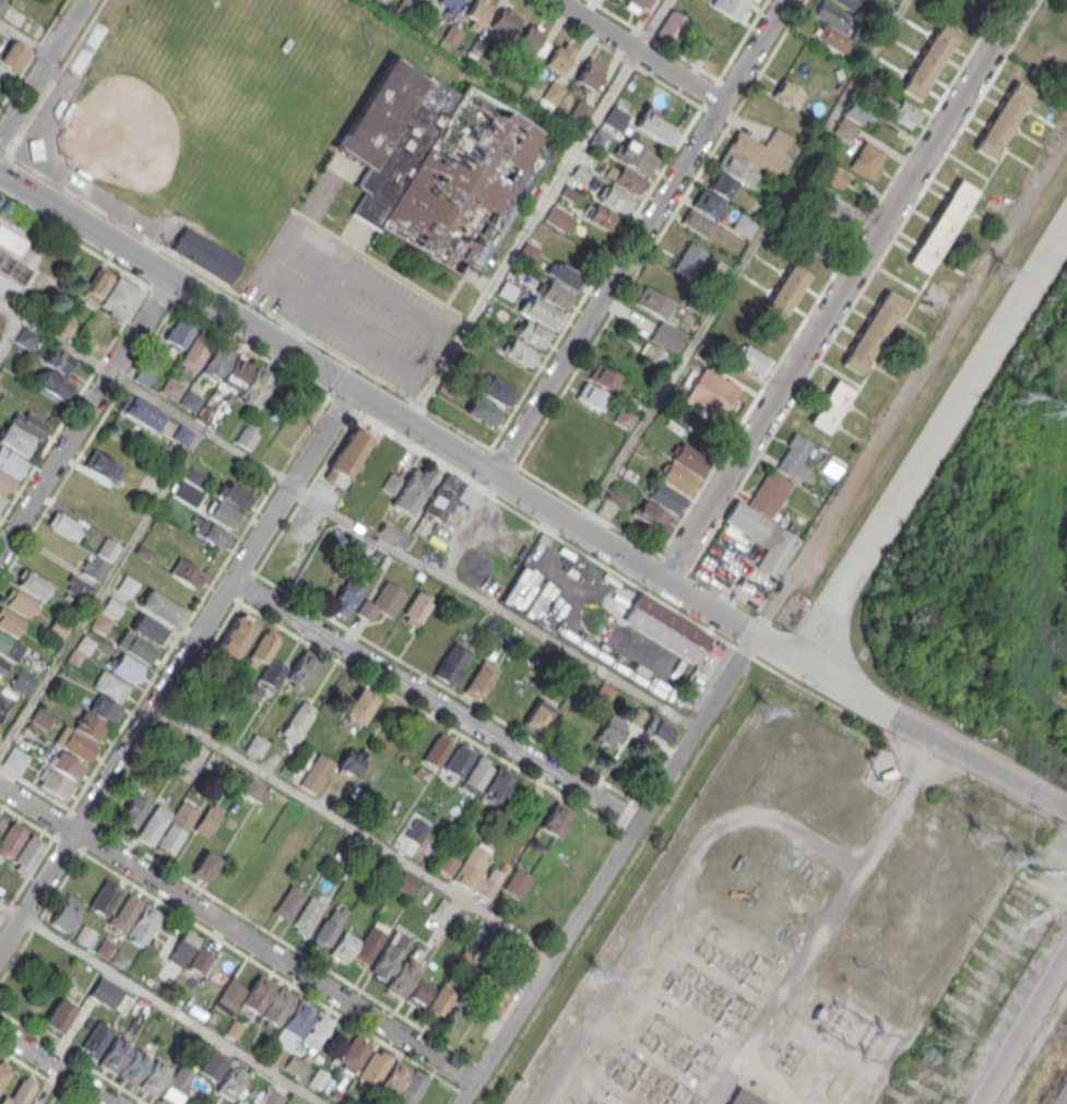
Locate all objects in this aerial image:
building: (752, 0)
building: (452, 2)
building: (925, 2)
building: (636, 4)
building: (849, 4)
building: (728, 7)
building: (478, 10)
building: (503, 23)
building: (830, 28)
building: (683, 32)
building: (452, 35)
road: (25, 40)
building: (536, 41)
building: (477, 49)
road: (638, 51)
road: (754, 51)
road: (33, 54)
building: (15, 55)
building: (560, 57)
building: (927, 60)
road: (42, 69)
building: (586, 75)
building: (552, 93)
building: (786, 93)
building: (580, 110)
building: (900, 111)
park: (204, 115)
building: (613, 117)
building: (851, 118)
building: (1003, 118)
building: (655, 128)
building: (598, 140)
road: (8, 157)
building: (635, 157)
building: (867, 159)
building: (437, 164)
building: (735, 168)
building: (833, 175)
building: (627, 179)
building: (616, 199)
building: (707, 204)
building: (830, 210)
road: (537, 211)
building: (557, 217)
building: (604, 217)
building: (697, 223)
building: (742, 225)
building: (940, 226)
building: (11, 241)
building: (206, 253)
building: (527, 254)
building: (687, 260)
road: (742, 263)
building: (13, 268)
power tower: (995, 271)
building: (565, 276)
building: (787, 288)
building: (507, 289)
road: (606, 289)
road: (842, 290)
building: (554, 295)
building: (119, 297)
building: (653, 302)
parking lot: (351, 304)
building: (542, 313)
road: (10, 327)
building: (872, 331)
building: (532, 333)
building: (178, 334)
building: (666, 336)
building: (195, 351)
building: (519, 352)
building: (653, 354)
building: (60, 360)
building: (752, 360)
building: (216, 361)
road: (402, 365)
building: (507, 371)
building: (236, 372)
building: (603, 377)
building: (52, 382)
building: (257, 384)
road: (414, 384)
building: (171, 388)
building: (494, 391)
building: (712, 392)
power tower: (1015, 394)
building: (591, 396)
building: (190, 401)
road: (157, 402)
road: (376, 403)
building: (829, 404)
power tower: (1048, 406)
building: (483, 411)
building: (142, 413)
road: (84, 415)
building: (624, 418)
building: (29, 424)
building: (183, 435)
building: (247, 437)
building: (15, 439)
road: (932, 441)
building: (345, 458)
building: (689, 458)
building: (794, 459)
building: (103, 465)
building: (9, 472)
building: (677, 478)
building: (391, 483)
building: (88, 485)
building: (410, 491)
building: (234, 495)
building: (615, 496)
building: (665, 497)
building: (1, 503)
building: (439, 503)
building: (315, 510)
building: (224, 514)
road: (251, 518)
building: (64, 525)
building: (210, 533)
building: (761, 536)
road: (130, 548)
building: (108, 549)
building: (204, 550)
building: (94, 568)
building: (188, 573)
building: (31, 582)
building: (351, 583)
building: (127, 585)
building: (79, 587)
building: (19, 602)
building: (380, 603)
road: (495, 605)
building: (417, 606)
building: (111, 607)
building: (161, 607)
building: (9, 622)
building: (100, 622)
building: (664, 628)
building: (150, 629)
building: (236, 637)
building: (137, 646)
building: (264, 646)
building: (10, 648)
building: (80, 650)
building: (451, 663)
building: (1, 664)
building: (126, 666)
road: (176, 669)
building: (301, 669)
building: (272, 674)
building: (481, 679)
building: (22, 682)
building: (111, 686)
building: (604, 693)
building: (4, 699)
building: (203, 701)
road: (435, 702)
building: (358, 705)
power tower: (761, 709)
building: (537, 717)
building: (40, 719)
building: (297, 721)
road: (910, 723)
building: (657, 728)
building: (612, 731)
building: (0, 738)
building: (75, 744)
building: (256, 745)
building: (437, 750)
building: (15, 760)
building: (459, 760)
building: (352, 761)
building: (68, 765)
building: (186, 768)
building: (317, 773)
building: (476, 775)
building: (55, 784)
building: (494, 786)
building: (253, 790)
building: (133, 814)
building: (556, 819)
building: (209, 820)
building: (153, 823)
road: (355, 830)
building: (417, 831)
power tower: (972, 836)
building: (10, 841)
building: (28, 854)
power tower: (1010, 857)
building: (447, 863)
building: (205, 867)
road: (607, 870)
power tower: (1033, 870)
building: (479, 872)
building: (406, 883)
building: (517, 883)
road: (664, 895)
building: (105, 898)
building: (288, 901)
building: (67, 913)
building: (309, 915)
building: (134, 921)
road: (827, 922)
building: (329, 928)
road: (238, 934)
power substation: (803, 934)
building: (84, 935)
building: (368, 946)
building: (105, 948)
building: (183, 948)
building: (343, 948)
building: (120, 959)
building: (384, 961)
building: (218, 978)
power tower: (595, 978)
building: (402, 980)
building: (106, 993)
building: (419, 994)
building: (498, 999)
building: (441, 1001)
road: (161, 1002)
building: (277, 1006)
building: (57, 1017)
building: (295, 1022)
building: (316, 1030)
road: (68, 1032)
road: (1024, 1032)
power tower: (938, 1037)
building: (96, 1040)
building: (115, 1054)
building: (355, 1054)
building: (214, 1065)
building: (134, 1066)
building: (294, 1066)
road: (57, 1068)
building: (3, 1072)
building: (393, 1076)
building: (154, 1077)
building: (317, 1079)
building: (232, 1082)
building: (176, 1084)
building: (413, 1088)
building: (21, 1092)
building: (272, 1097)
building: (744, 1097)
railway: (1063, 1097)

